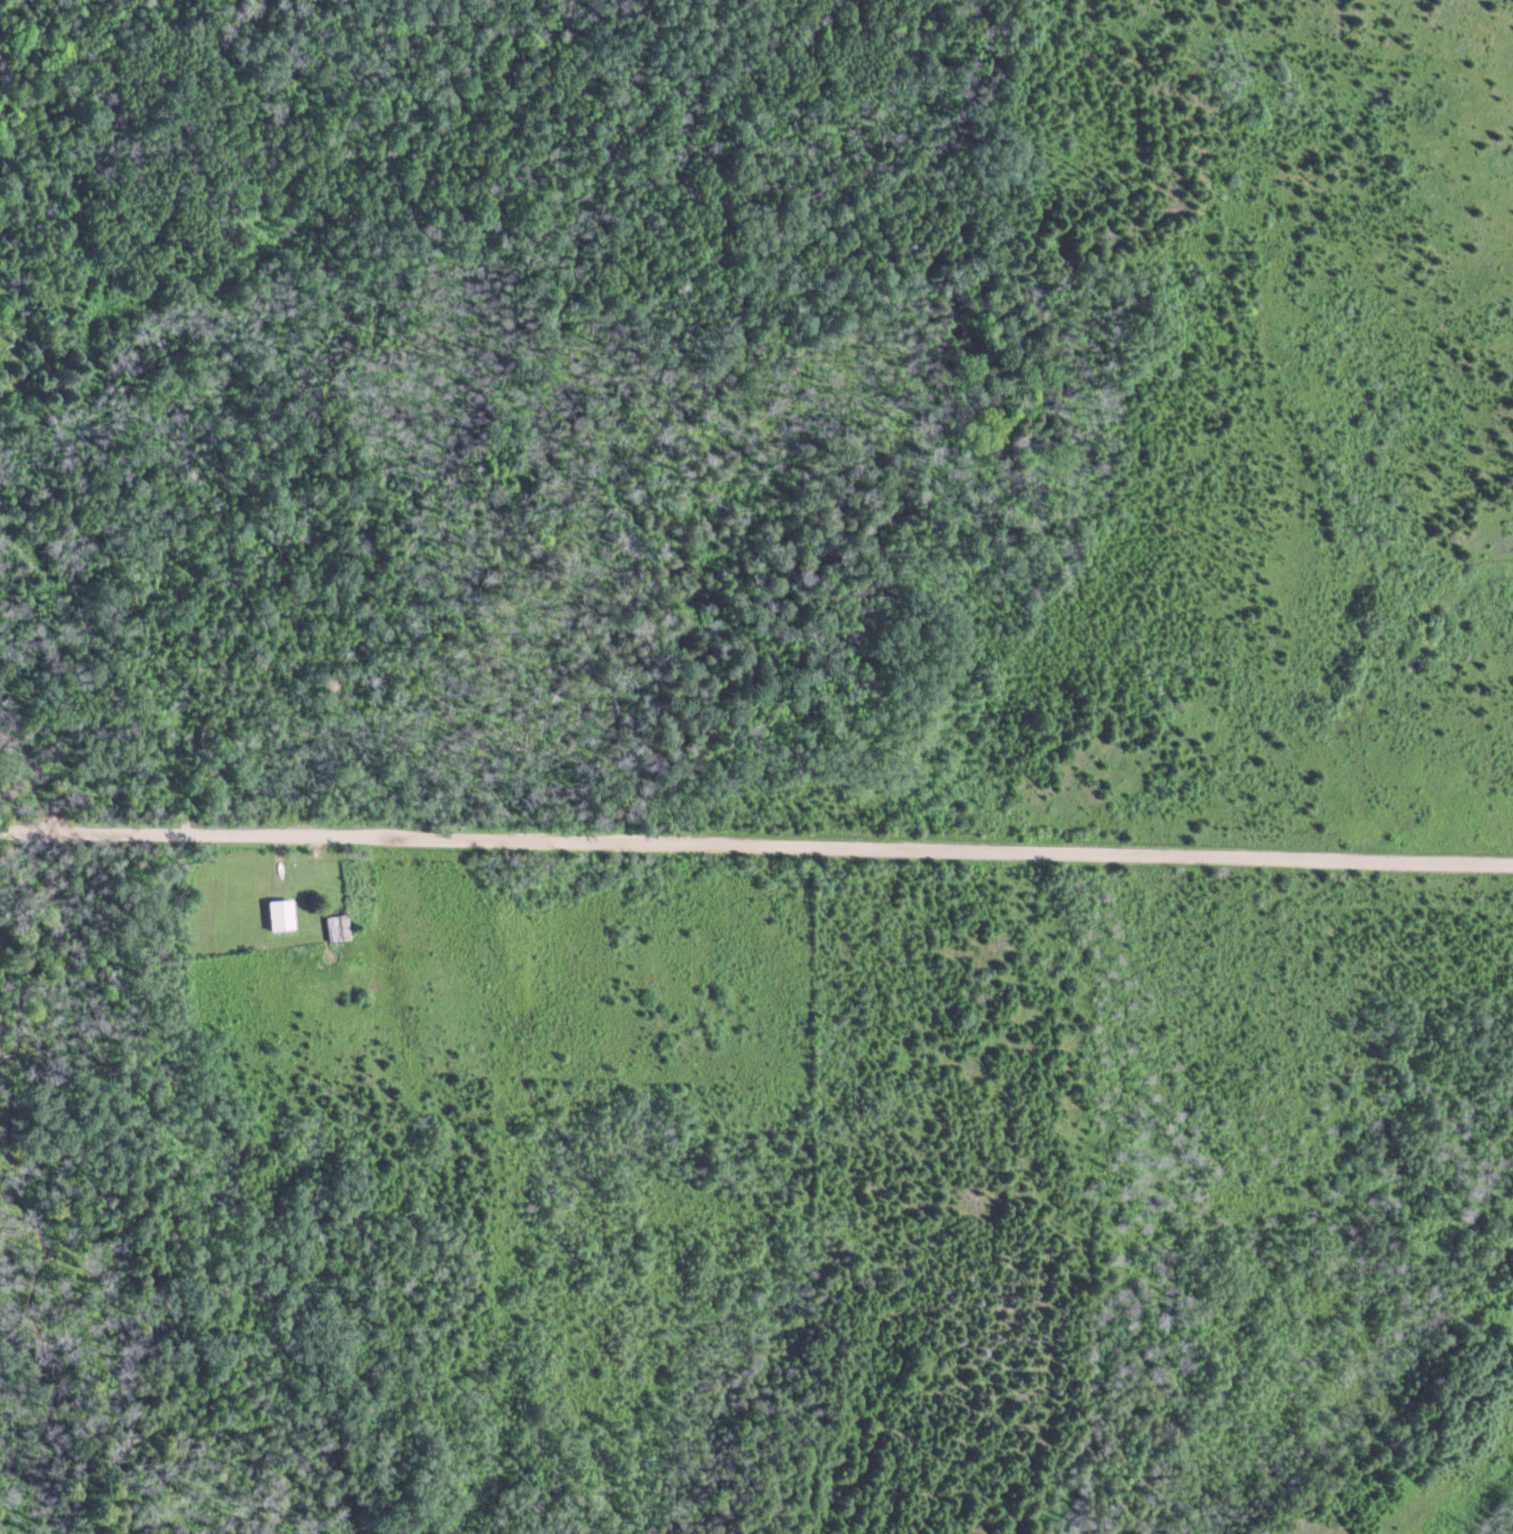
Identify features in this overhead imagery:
road: (76, 209)
road: (117, 671)
road: (756, 849)
building: (277, 919)
building: (334, 932)

